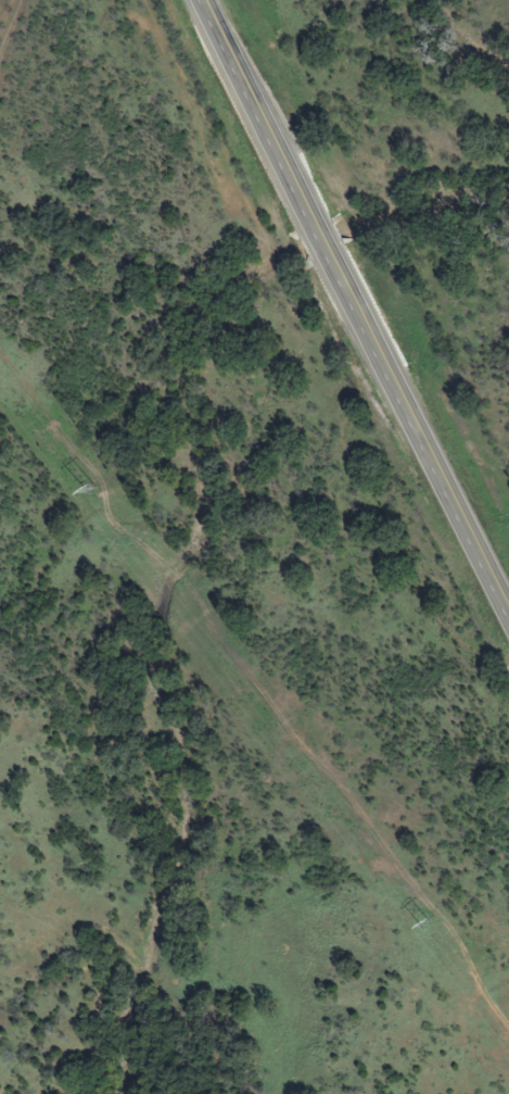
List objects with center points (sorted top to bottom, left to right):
road: (7, 30)
road: (357, 301)
power tower: (92, 489)
power tower: (425, 923)

